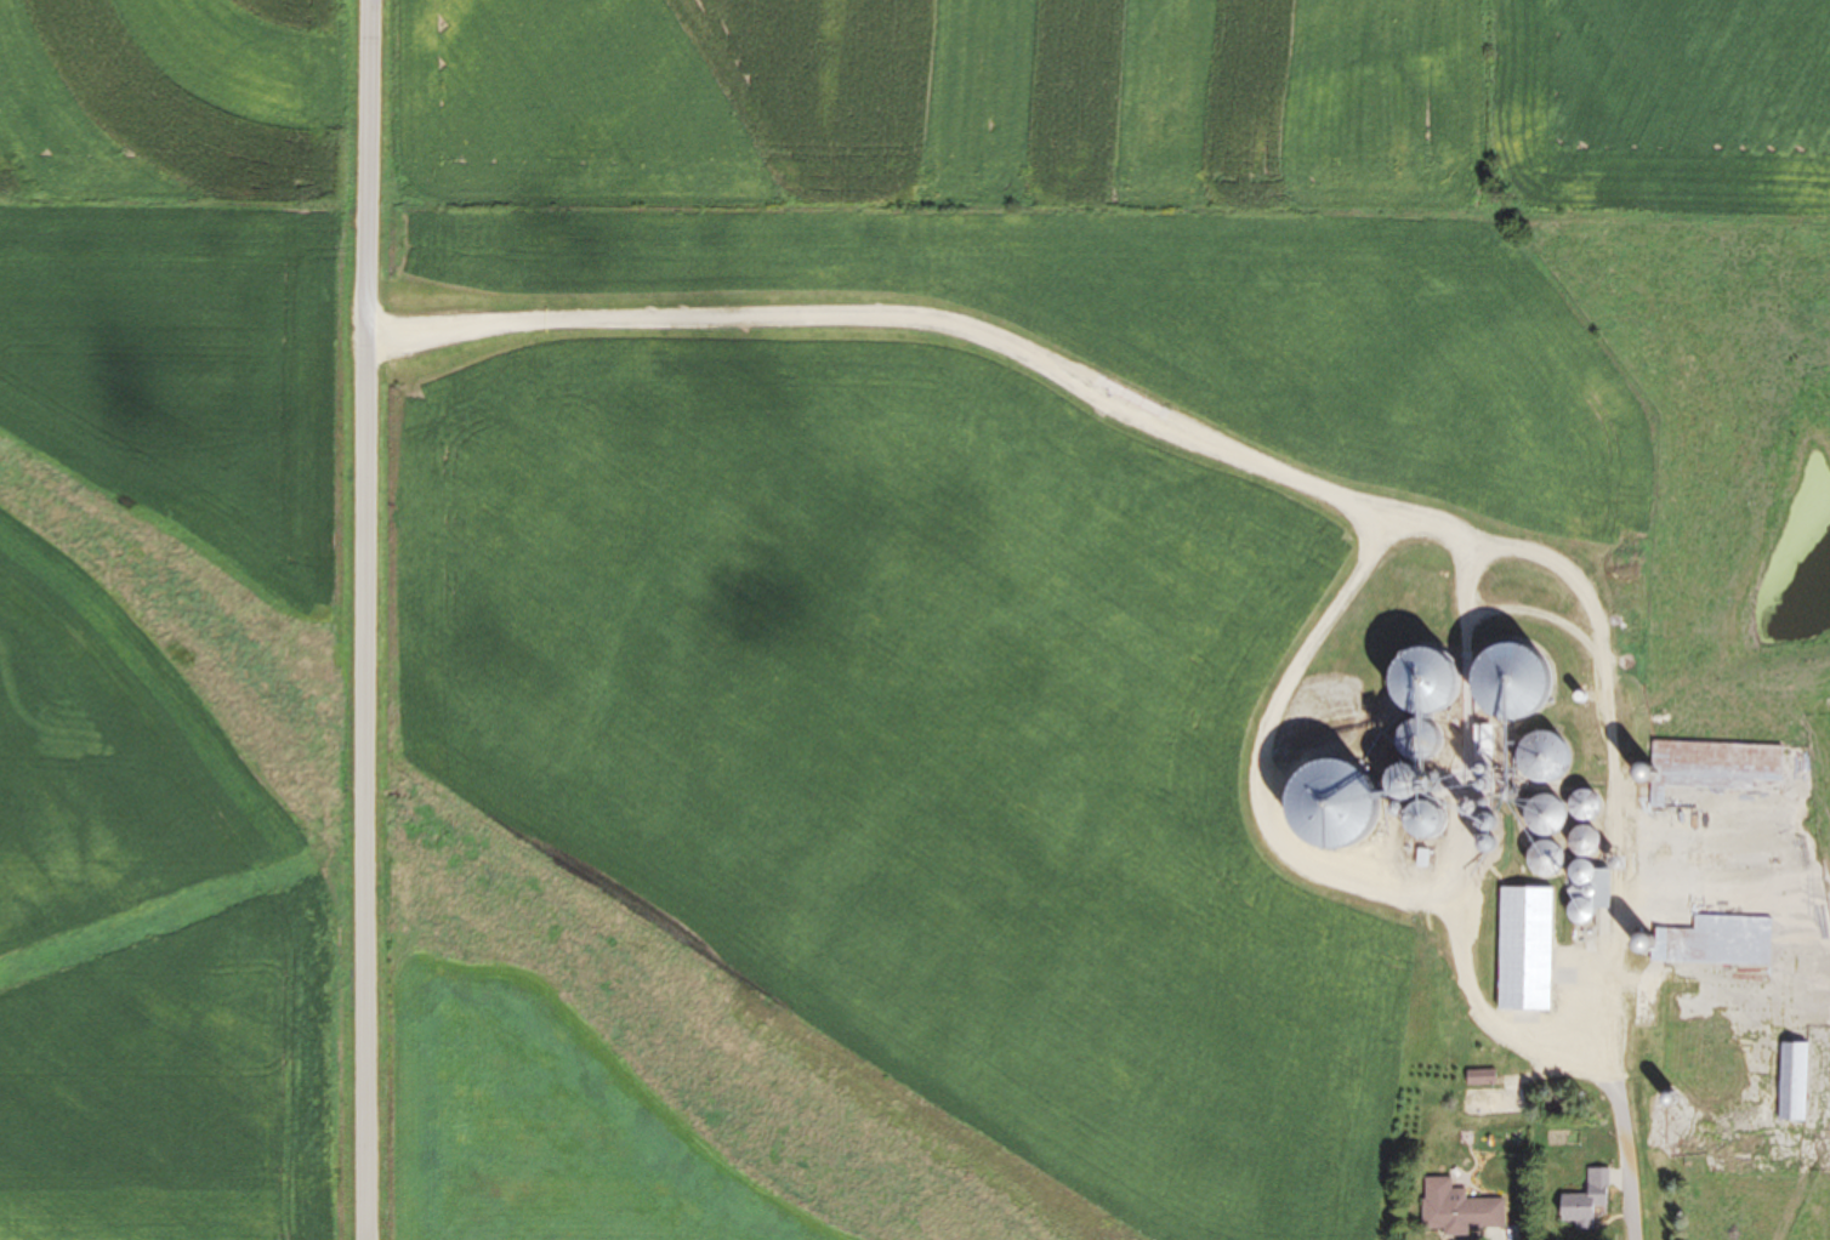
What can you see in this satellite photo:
road: (362, 620)
building: (1517, 684)
building: (1431, 703)
building: (1548, 760)
building: (1717, 767)
building: (1330, 803)
building: (1548, 815)
building: (1546, 859)
building: (1585, 876)
building: (1585, 912)
building: (1714, 942)
building: (1527, 950)
building: (1699, 1041)
building: (1482, 1077)
building: (1794, 1081)
building: (1587, 1200)
building: (1459, 1208)

